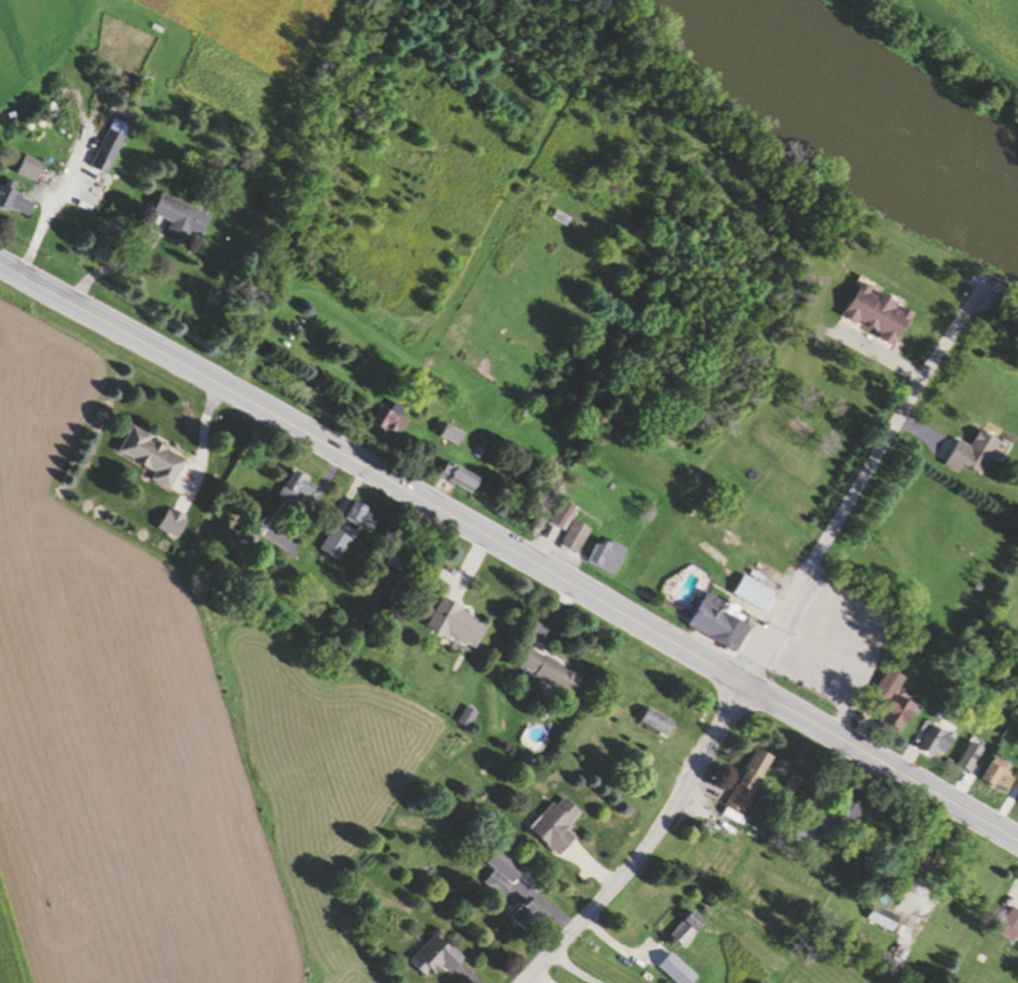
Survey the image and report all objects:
river: (863, 104)
building: (111, 149)
building: (31, 172)
road: (53, 205)
building: (15, 206)
building: (182, 221)
building: (563, 221)
building: (874, 318)
building: (391, 425)
building: (449, 436)
building: (970, 457)
building: (153, 460)
building: (461, 481)
road: (856, 481)
building: (296, 493)
building: (564, 518)
building: (364, 520)
building: (173, 526)
building: (576, 540)
road: (511, 547)
building: (335, 548)
building: (608, 560)
building: (379, 593)
building: (755, 596)
building: (720, 625)
building: (458, 626)
building: (552, 674)
building: (896, 705)
building: (658, 724)
building: (934, 744)
building: (967, 758)
building: (996, 777)
building: (750, 782)
building: (1017, 808)
building: (847, 816)
building: (557, 827)
building: (809, 837)
road: (650, 842)
road: (943, 861)
building: (915, 867)
building: (503, 873)
building: (529, 917)
building: (880, 921)
building: (688, 931)
building: (1008, 931)
building: (435, 959)
road: (562, 971)

